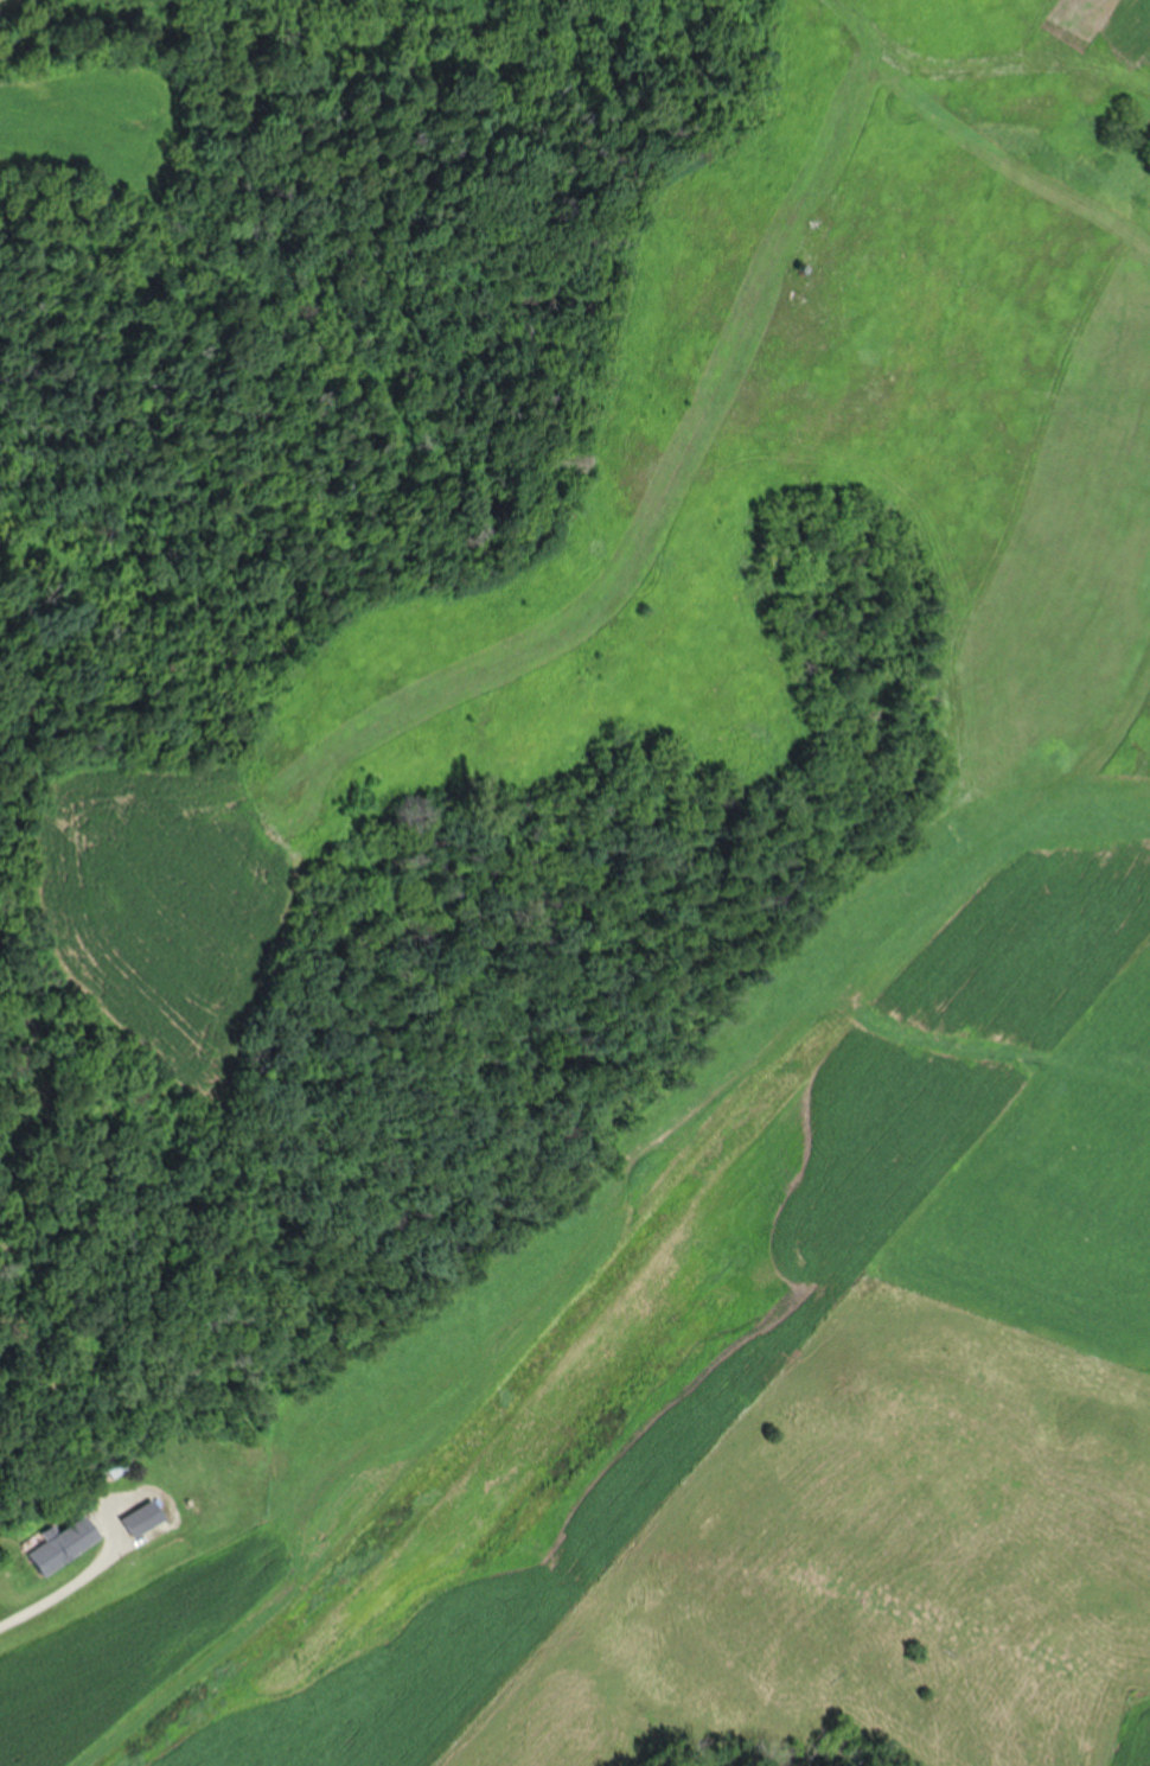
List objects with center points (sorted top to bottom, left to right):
building: (143, 1517)
building: (64, 1544)
road: (58, 1582)

